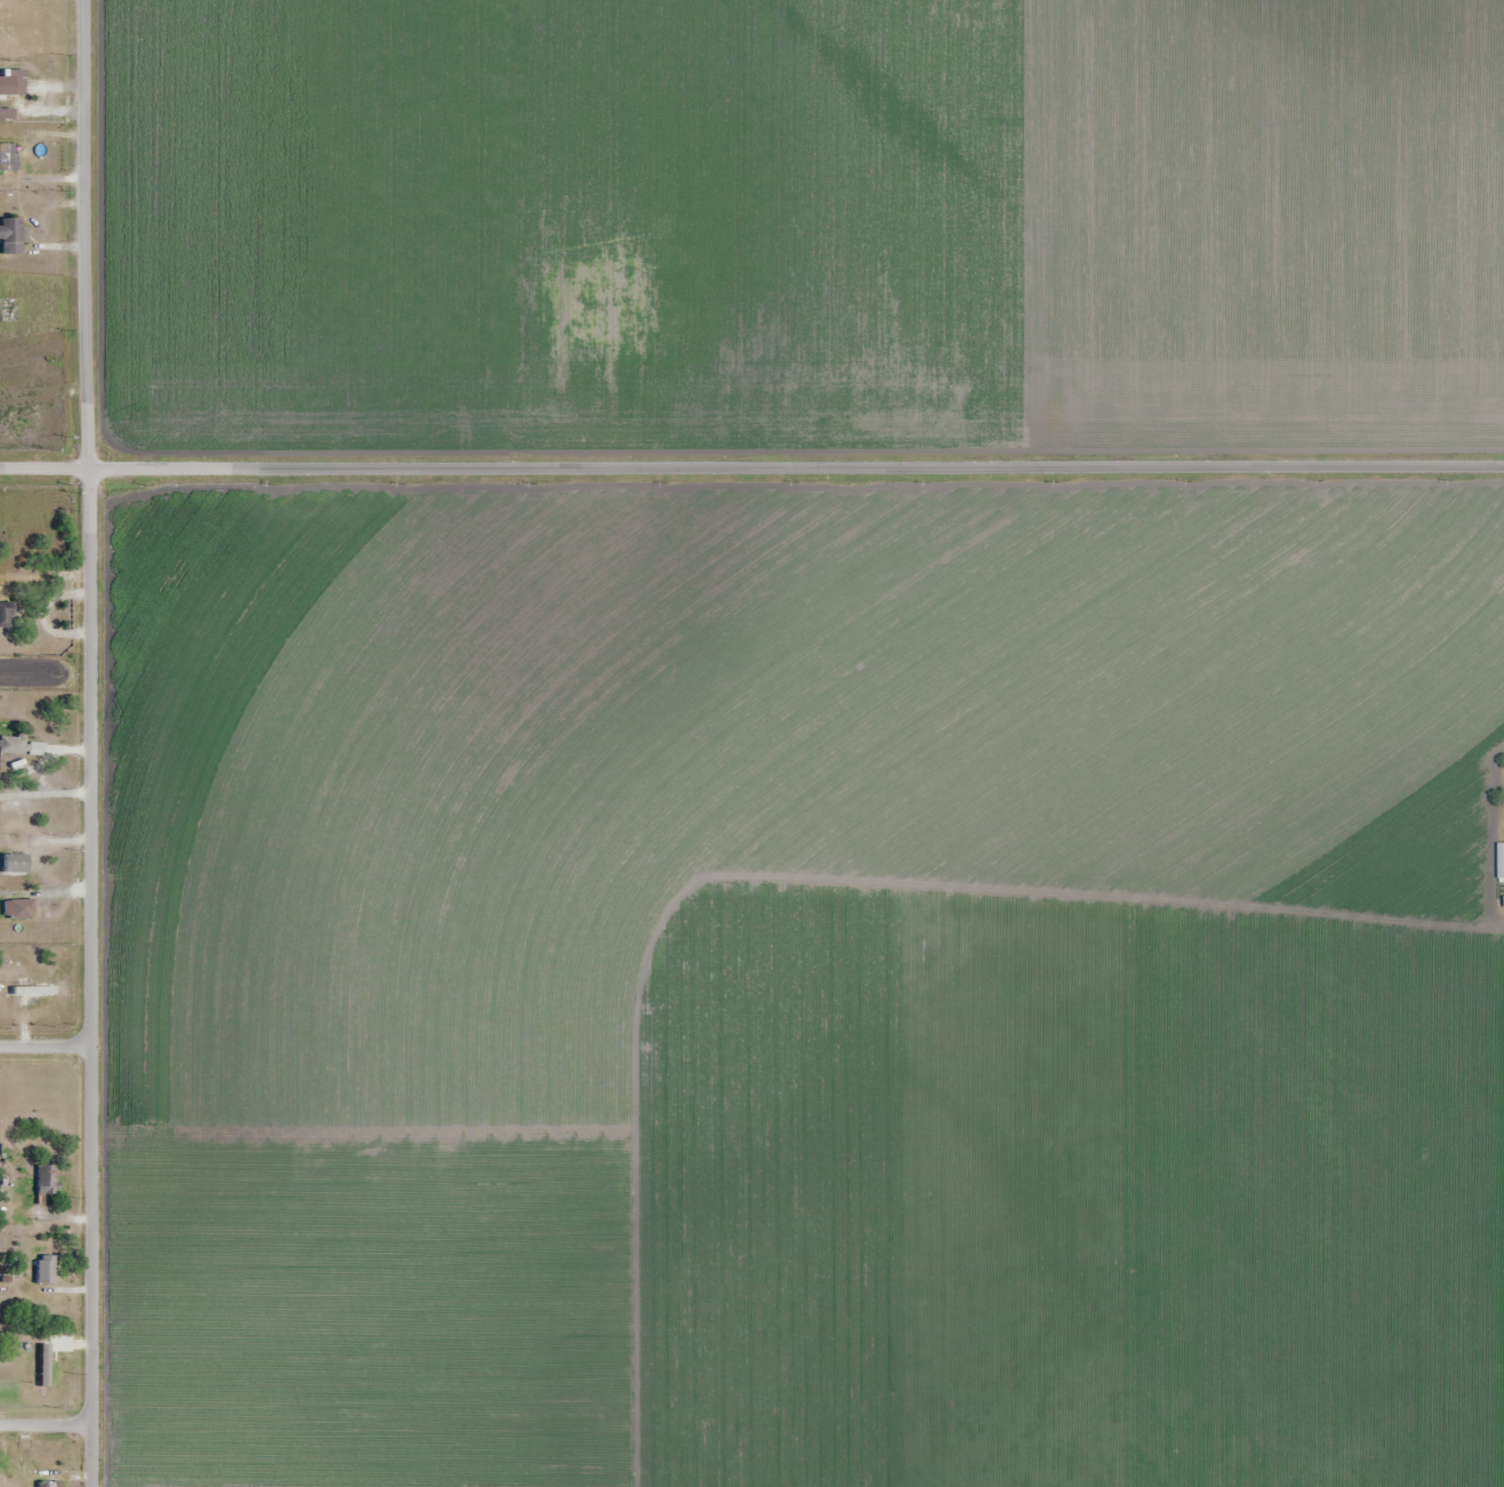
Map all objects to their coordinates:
building: (8, 156)
building: (11, 236)
road: (751, 468)
building: (6, 615)
road: (92, 743)
building: (22, 747)
building: (1501, 863)
building: (29, 994)
road: (47, 1045)
building: (48, 1179)
building: (45, 1269)
road: (48, 1424)
building: (47, 1484)

